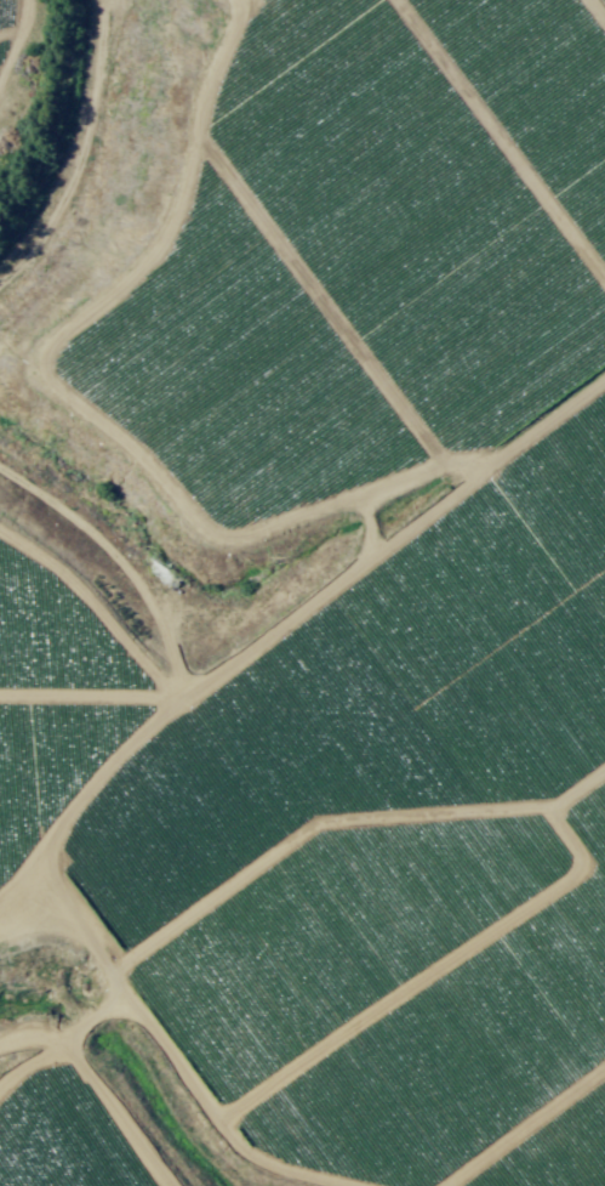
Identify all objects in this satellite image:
crop: (302, 592)

